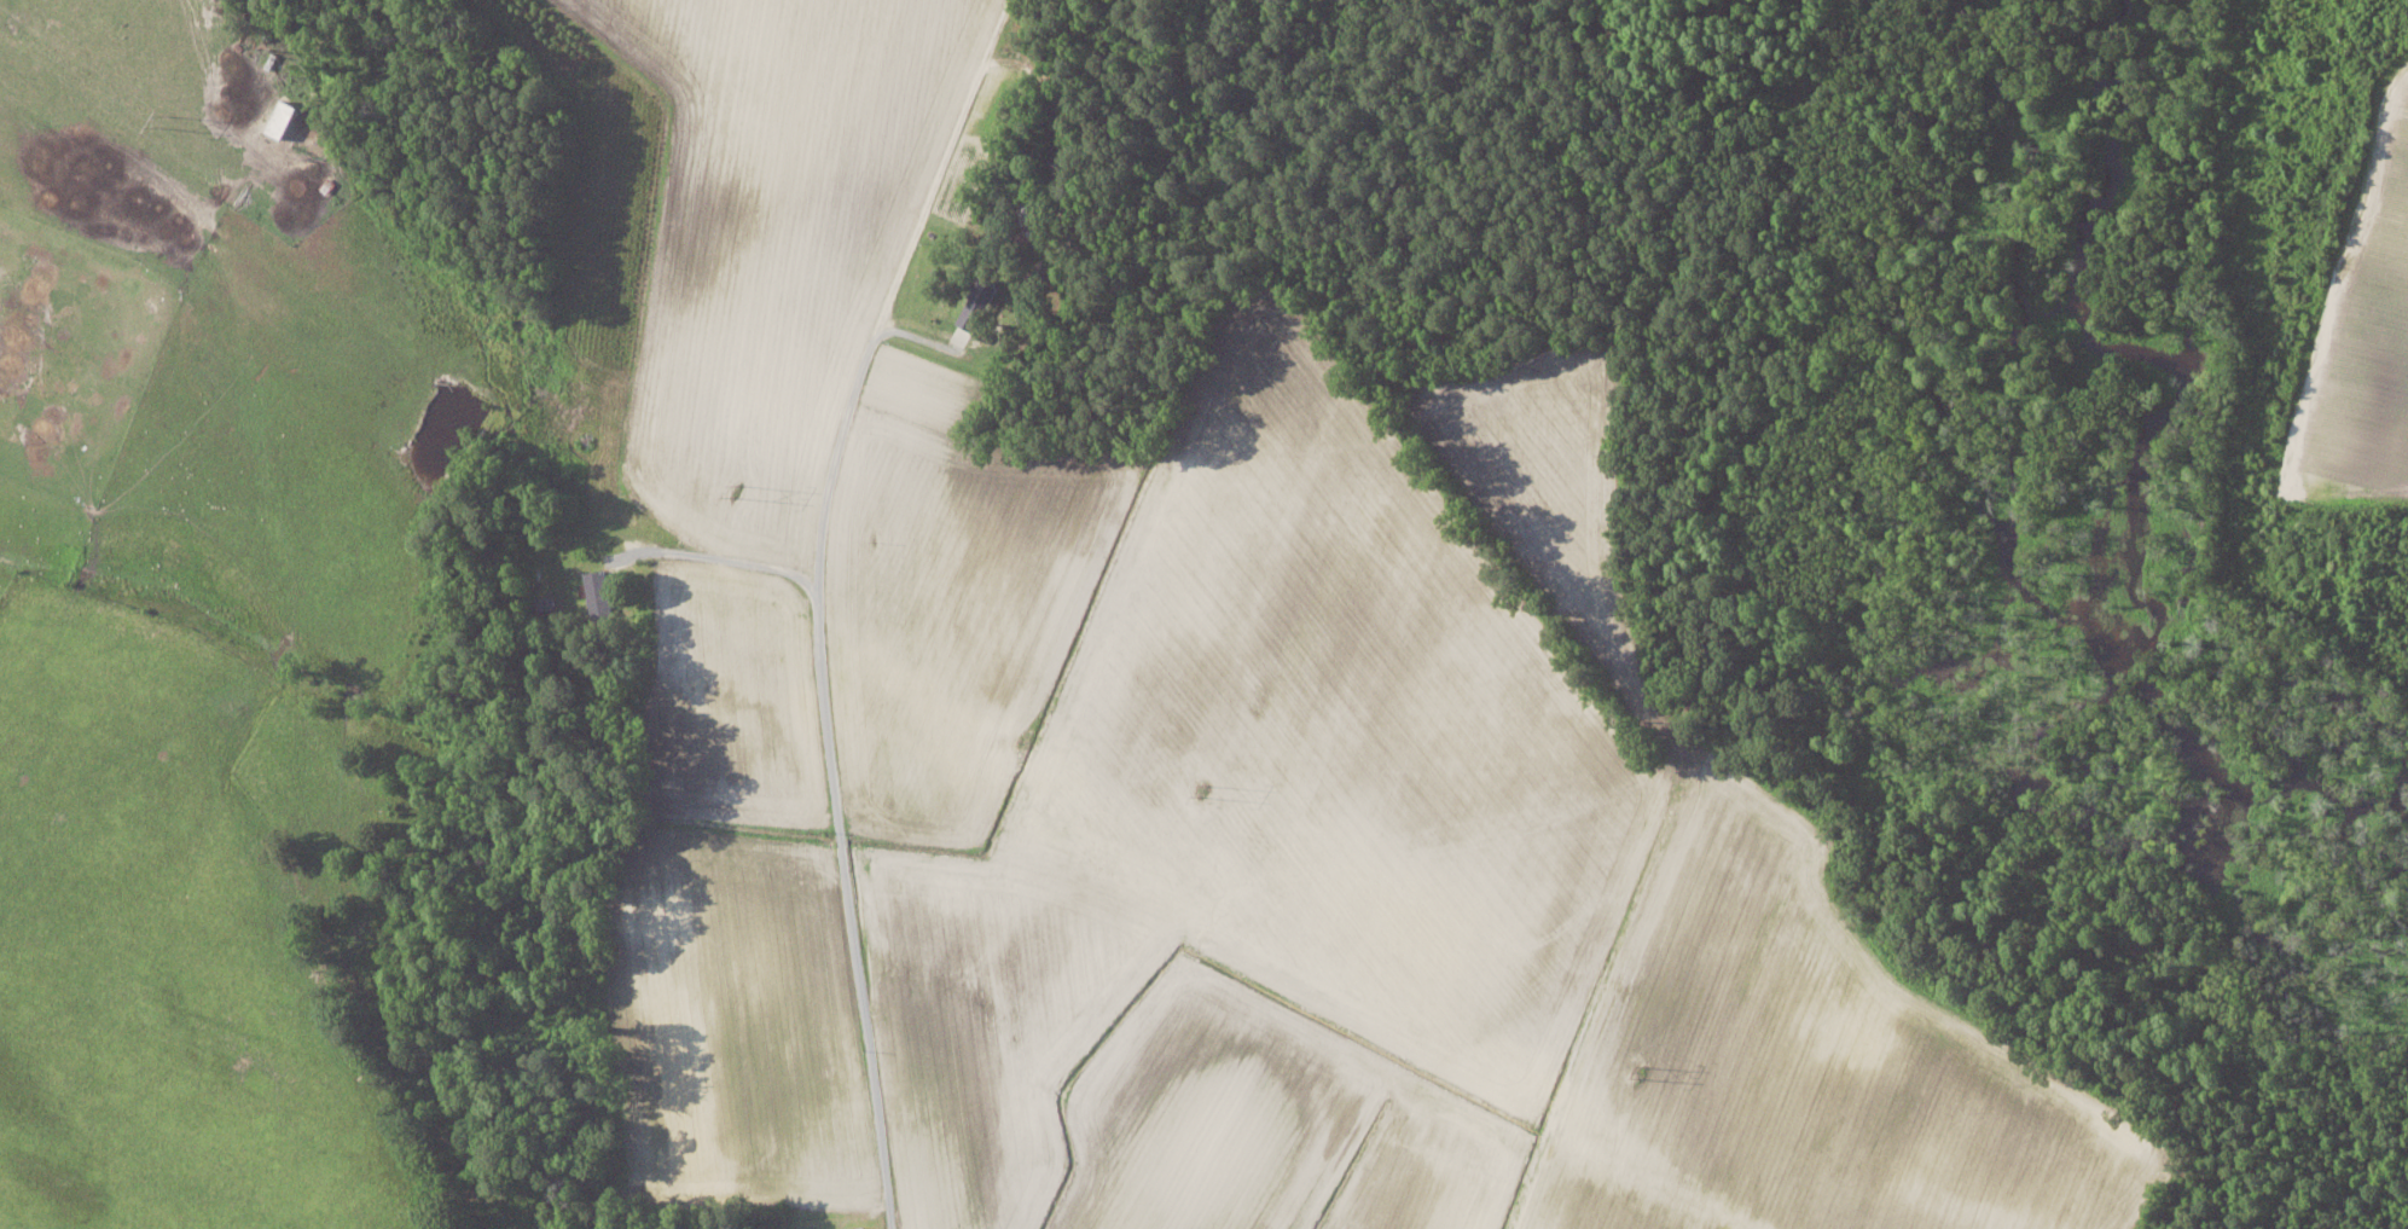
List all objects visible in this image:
power tower: (161, 117)
building: (284, 117)
building: (980, 302)
power tower: (737, 492)
building: (600, 595)
power tower: (1206, 788)
road: (843, 862)
power tower: (1641, 1069)

